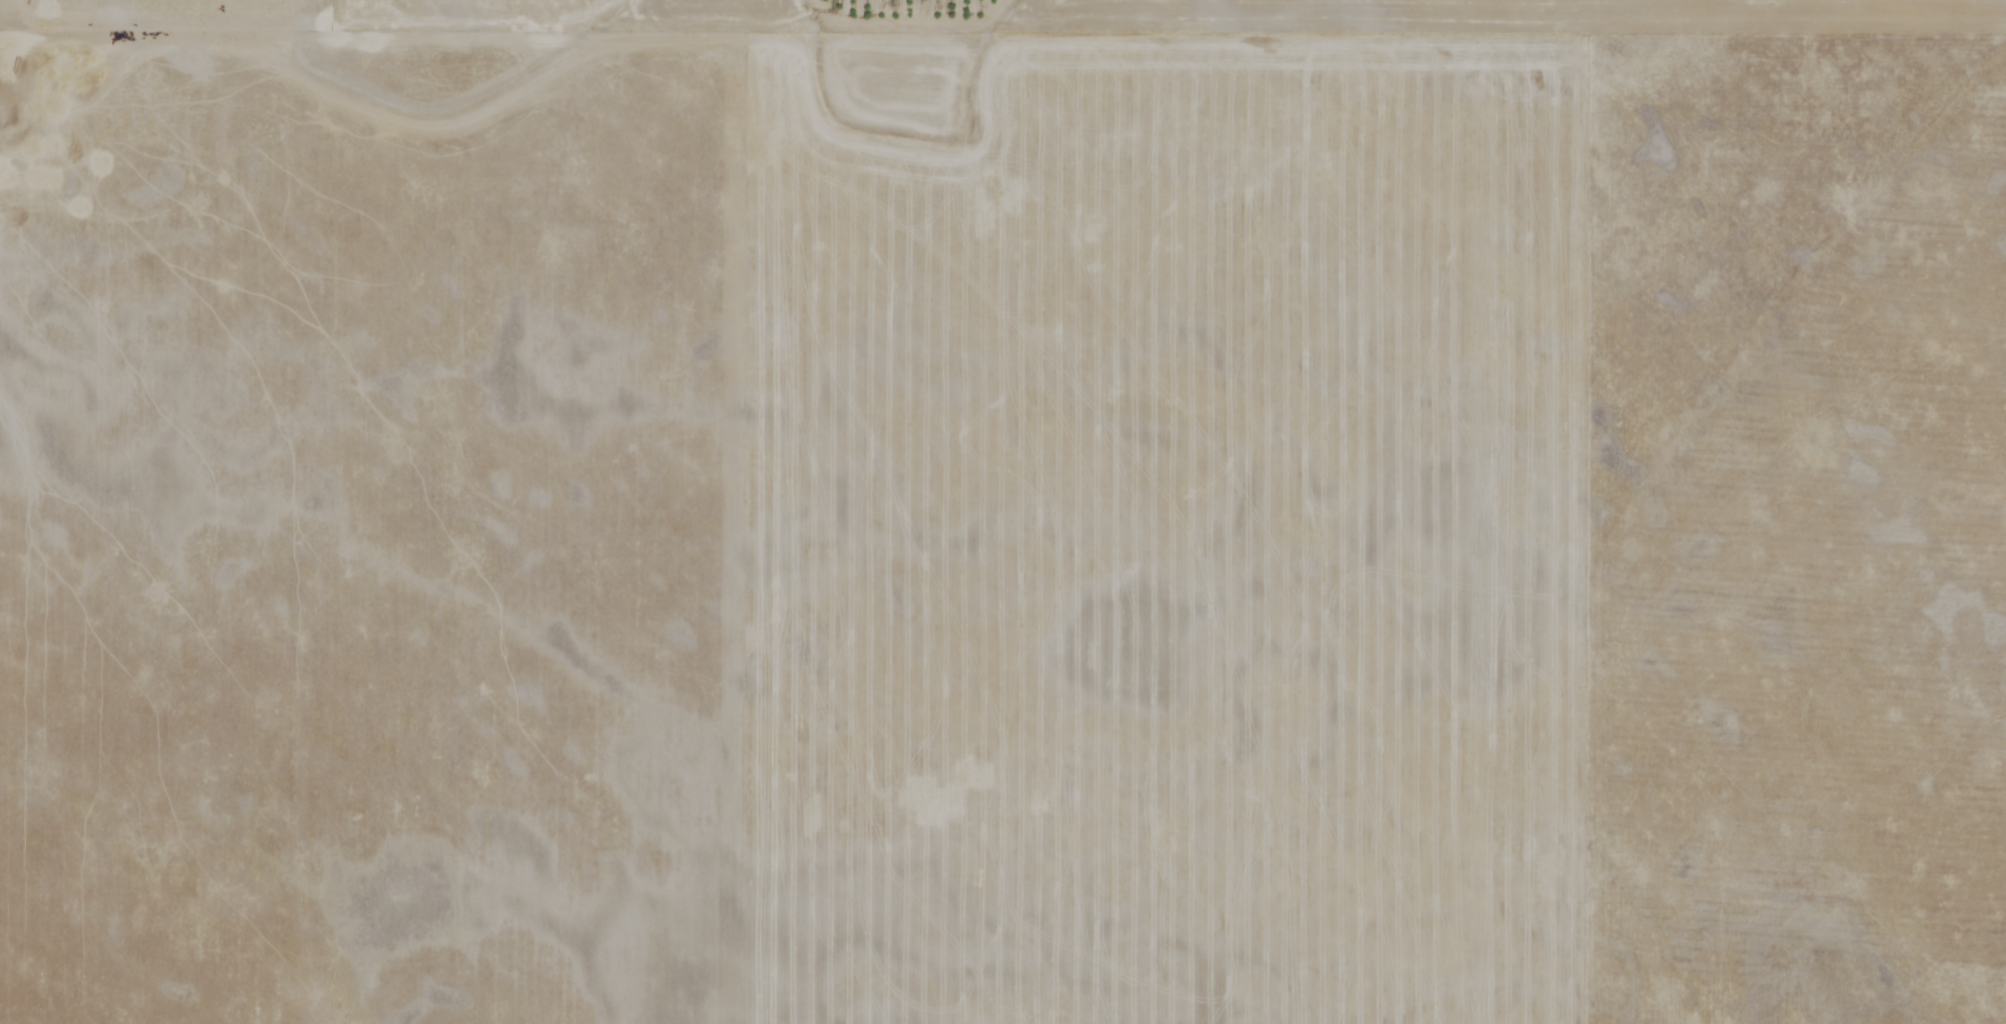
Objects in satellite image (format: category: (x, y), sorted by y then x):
crop: (1003, 512)

